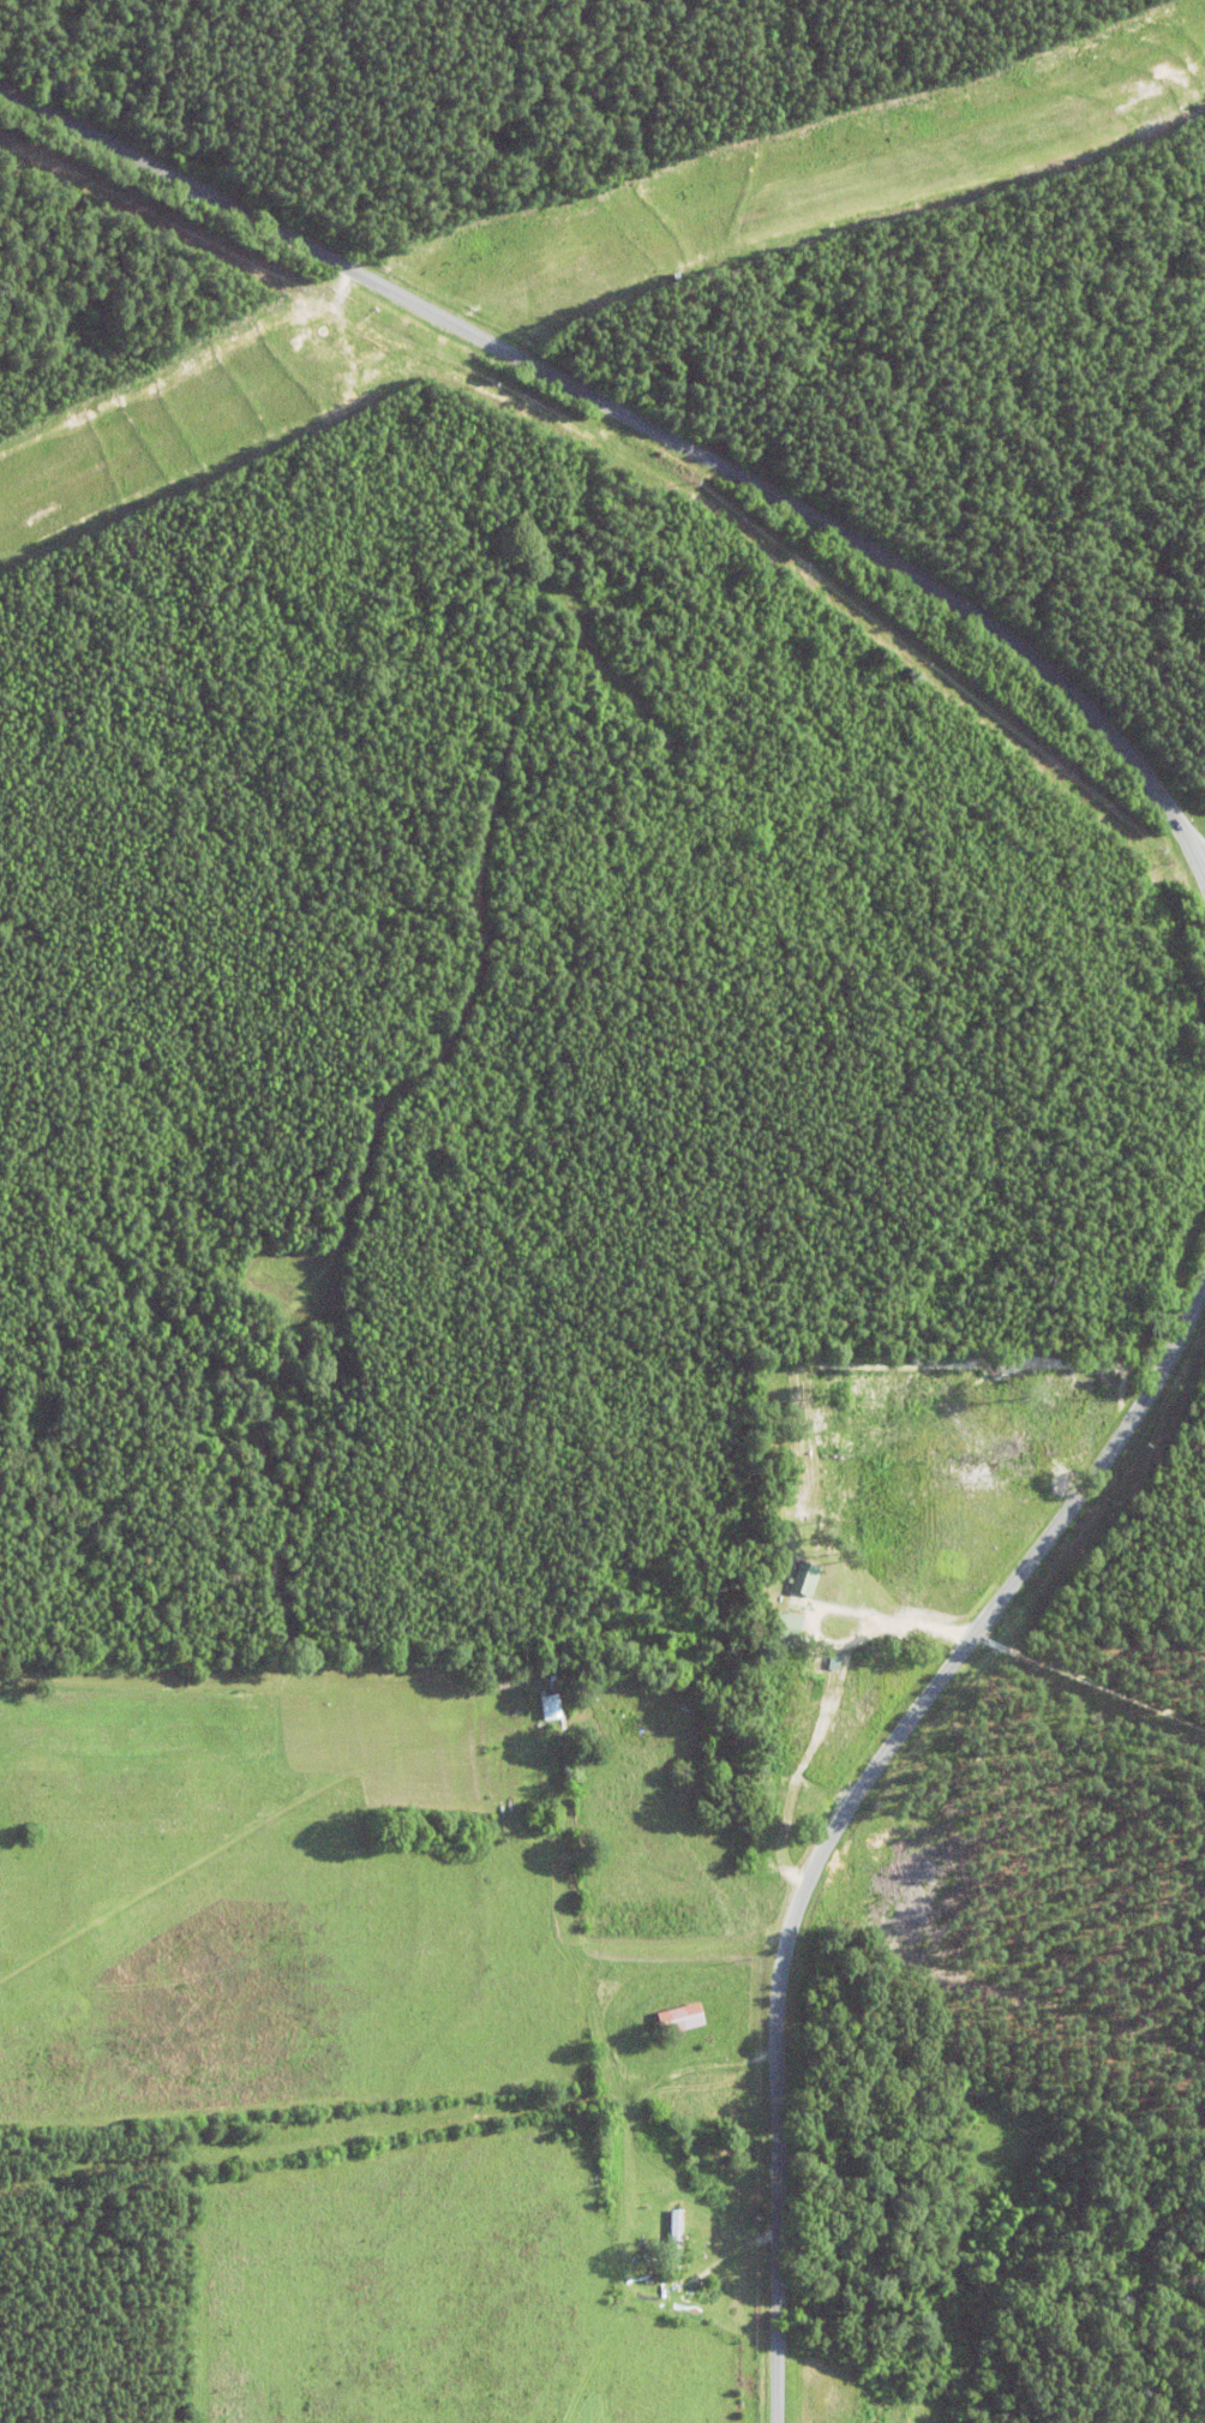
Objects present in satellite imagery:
road: (629, 418)
road: (1199, 843)
road: (1199, 856)
building: (792, 1580)
building: (769, 1627)
building: (539, 1707)
road: (843, 1799)
building: (667, 2017)
building: (660, 2238)

